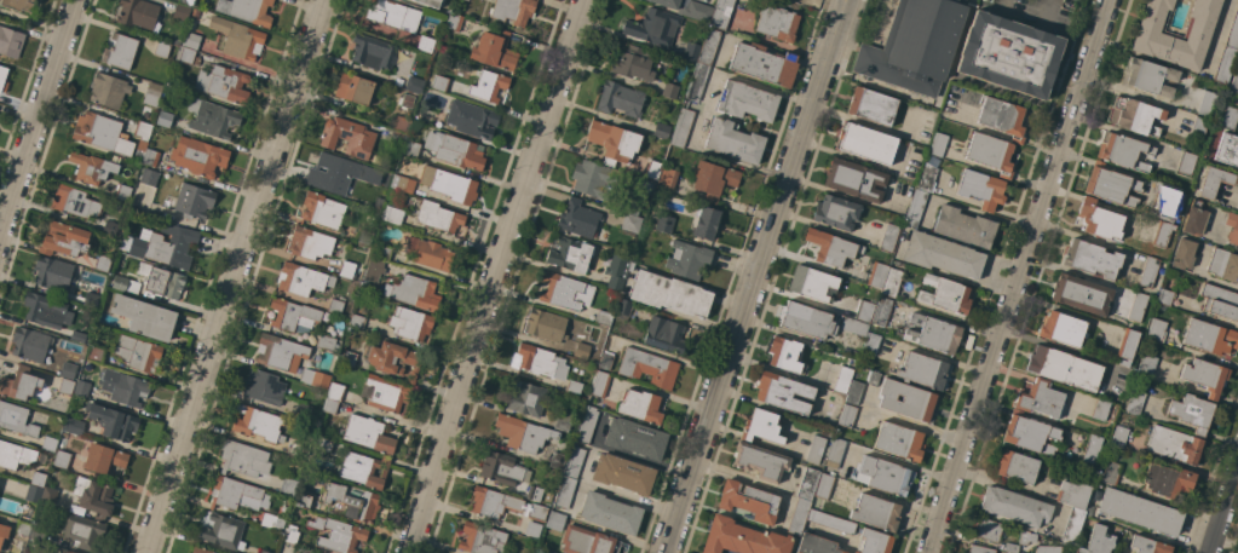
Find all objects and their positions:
building: (186, 1)
building: (1237, 1)
building: (431, 2)
building: (18, 5)
building: (687, 8)
building: (247, 10)
building: (513, 11)
building: (182, 12)
building: (195, 12)
building: (137, 13)
building: (720, 13)
building: (392, 15)
building: (437, 19)
building: (453, 22)
building: (777, 23)
building: (653, 27)
building: (1153, 34)
building: (238, 38)
building: (191, 40)
building: (10, 41)
building: (426, 44)
building: (915, 45)
building: (709, 46)
building: (161, 48)
building: (494, 50)
building: (120, 51)
building: (373, 52)
building: (691, 52)
building: (1227, 52)
building: (1009, 54)
building: (186, 56)
building: (633, 63)
building: (764, 63)
road: (730, 75)
building: (1147, 76)
building: (2, 79)
building: (697, 81)
building: (1234, 82)
building: (223, 83)
building: (439, 83)
building: (414, 85)
building: (488, 86)
building: (353, 88)
building: (108, 90)
building: (669, 90)
building: (151, 93)
building: (620, 99)
building: (747, 100)
building: (1207, 103)
building: (871, 105)
building: (653, 108)
building: (404, 114)
building: (1135, 115)
building: (212, 117)
building: (1002, 117)
building: (1227, 117)
building: (163, 119)
building: (471, 119)
road: (38, 123)
building: (681, 127)
building: (1197, 128)
building: (661, 131)
building: (102, 133)
building: (142, 137)
building: (347, 137)
building: (397, 137)
building: (733, 140)
building: (614, 142)
building: (865, 143)
building: (938, 144)
building: (411, 149)
building: (1227, 149)
building: (455, 150)
building: (1123, 151)
building: (990, 152)
building: (150, 156)
building: (198, 156)
building: (1186, 162)
building: (92, 167)
building: (652, 169)
building: (335, 174)
building: (149, 177)
building: (926, 177)
building: (598, 179)
building: (667, 179)
building: (854, 179)
building: (713, 180)
building: (1214, 182)
building: (404, 184)
building: (449, 184)
building: (1111, 185)
building: (981, 189)
building: (122, 192)
building: (194, 200)
building: (1174, 201)
building: (74, 202)
building: (393, 207)
building: (632, 208)
building: (915, 208)
building: (133, 209)
building: (322, 211)
building: (836, 212)
building: (438, 217)
building: (577, 218)
building: (1098, 219)
building: (1194, 219)
building: (630, 223)
building: (663, 223)
building: (706, 223)
building: (963, 226)
building: (1232, 227)
building: (109, 229)
building: (1162, 234)
road: (1, 236)
building: (364, 237)
building: (889, 237)
building: (64, 240)
building: (310, 243)
building: (162, 246)
building: (831, 247)
building: (384, 252)
building: (428, 253)
building: (569, 254)
building: (1182, 254)
building: (943, 255)
building: (687, 259)
building: (1090, 259)
building: (102, 263)
building: (1223, 265)
building: (346, 269)
building: (373, 270)
building: (1148, 271)
building: (52, 272)
building: (876, 273)
road: (236, 276)
road: (495, 276)
road: (756, 276)
road: (1018, 276)
building: (301, 278)
building: (161, 281)
building: (615, 282)
building: (891, 282)
building: (120, 283)
building: (812, 283)
building: (413, 292)
building: (564, 292)
building: (669, 294)
building: (945, 294)
building: (1081, 294)
building: (1164, 296)
building: (90, 299)
building: (1220, 301)
building: (334, 306)
building: (623, 306)
building: (1138, 306)
building: (45, 310)
building: (864, 311)
building: (881, 311)
building: (293, 315)
building: (144, 316)
building: (603, 318)
building: (806, 319)
building: (356, 321)
building: (410, 323)
building: (546, 326)
building: (853, 327)
building: (1063, 328)
building: (350, 329)
building: (1156, 330)
building: (933, 333)
building: (664, 334)
building: (77, 336)
building: (1209, 336)
building: (327, 342)
building: (30, 344)
building: (870, 344)
building: (1127, 346)
building: (581, 350)
building: (280, 352)
building: (94, 353)
building: (137, 353)
building: (784, 355)
building: (350, 358)
building: (393, 359)
building: (605, 361)
building: (537, 362)
building: (1063, 367)
building: (1146, 367)
building: (647, 368)
building: (68, 370)
building: (922, 370)
building: (1205, 376)
building: (313, 378)
building: (873, 378)
building: (842, 379)
building: (19, 384)
building: (599, 384)
building: (65, 386)
building: (264, 386)
building: (123, 387)
building: (572, 387)
building: (80, 388)
building: (335, 391)
building: (853, 392)
building: (783, 393)
building: (386, 394)
building: (524, 398)
building: (905, 399)
building: (1040, 399)
building: (1134, 402)
building: (329, 405)
building: (641, 407)
building: (1100, 409)
building: (303, 411)
building: (1192, 411)
building: (846, 415)
building: (16, 419)
building: (113, 421)
building: (562, 421)
building: (258, 424)
building: (586, 424)
building: (74, 426)
building: (762, 427)
building: (522, 433)
building: (1030, 433)
building: (367, 434)
building: (1118, 437)
building: (634, 438)
building: (899, 440)
building: (301, 442)
building: (50, 443)
building: (321, 443)
building: (1174, 445)
building: (816, 449)
building: (1090, 450)
building: (834, 453)
building: (16, 455)
building: (104, 457)
building: (61, 459)
building: (243, 459)
building: (557, 461)
building: (759, 461)
building: (574, 462)
building: (1017, 466)
building: (501, 468)
building: (363, 470)
building: (623, 473)
building: (830, 473)
building: (1111, 473)
building: (883, 476)
building: (38, 479)
building: (1167, 480)
building: (807, 483)
building: (824, 485)
building: (288, 486)
building: (50, 492)
building: (534, 492)
building: (565, 492)
building: (1072, 492)
building: (33, 494)
building: (236, 494)
building: (93, 496)
building: (548, 496)
building: (1096, 496)
building: (303, 500)
building: (350, 501)
building: (748, 501)
building: (493, 502)
building: (1015, 507)
building: (1088, 508)
road: (1223, 511)
building: (536, 512)
building: (876, 512)
building: (1139, 512)
building: (610, 513)
building: (799, 515)
building: (554, 520)
building: (272, 522)
building: (831, 522)
building: (1072, 526)
building: (23, 529)
building: (532, 529)
building: (986, 529)
building: (80, 530)
building: (38, 531)
building: (223, 531)
building: (290, 534)
building: (338, 534)
building: (4, 535)
building: (1025, 536)
building: (482, 538)
building: (741, 538)
building: (587, 541)
building: (1098, 541)
building: (874, 542)
building: (816, 545)
building: (1147, 545)
building: (1010, 547)
building: (979, 549)
building: (1047, 549)
building: (200, 551)
building: (546, 551)
building: (64, 552)
building: (69, 552)
building: (264, 552)
building: (309, 552)
building: (854, 552)
building: (1010, 552)

